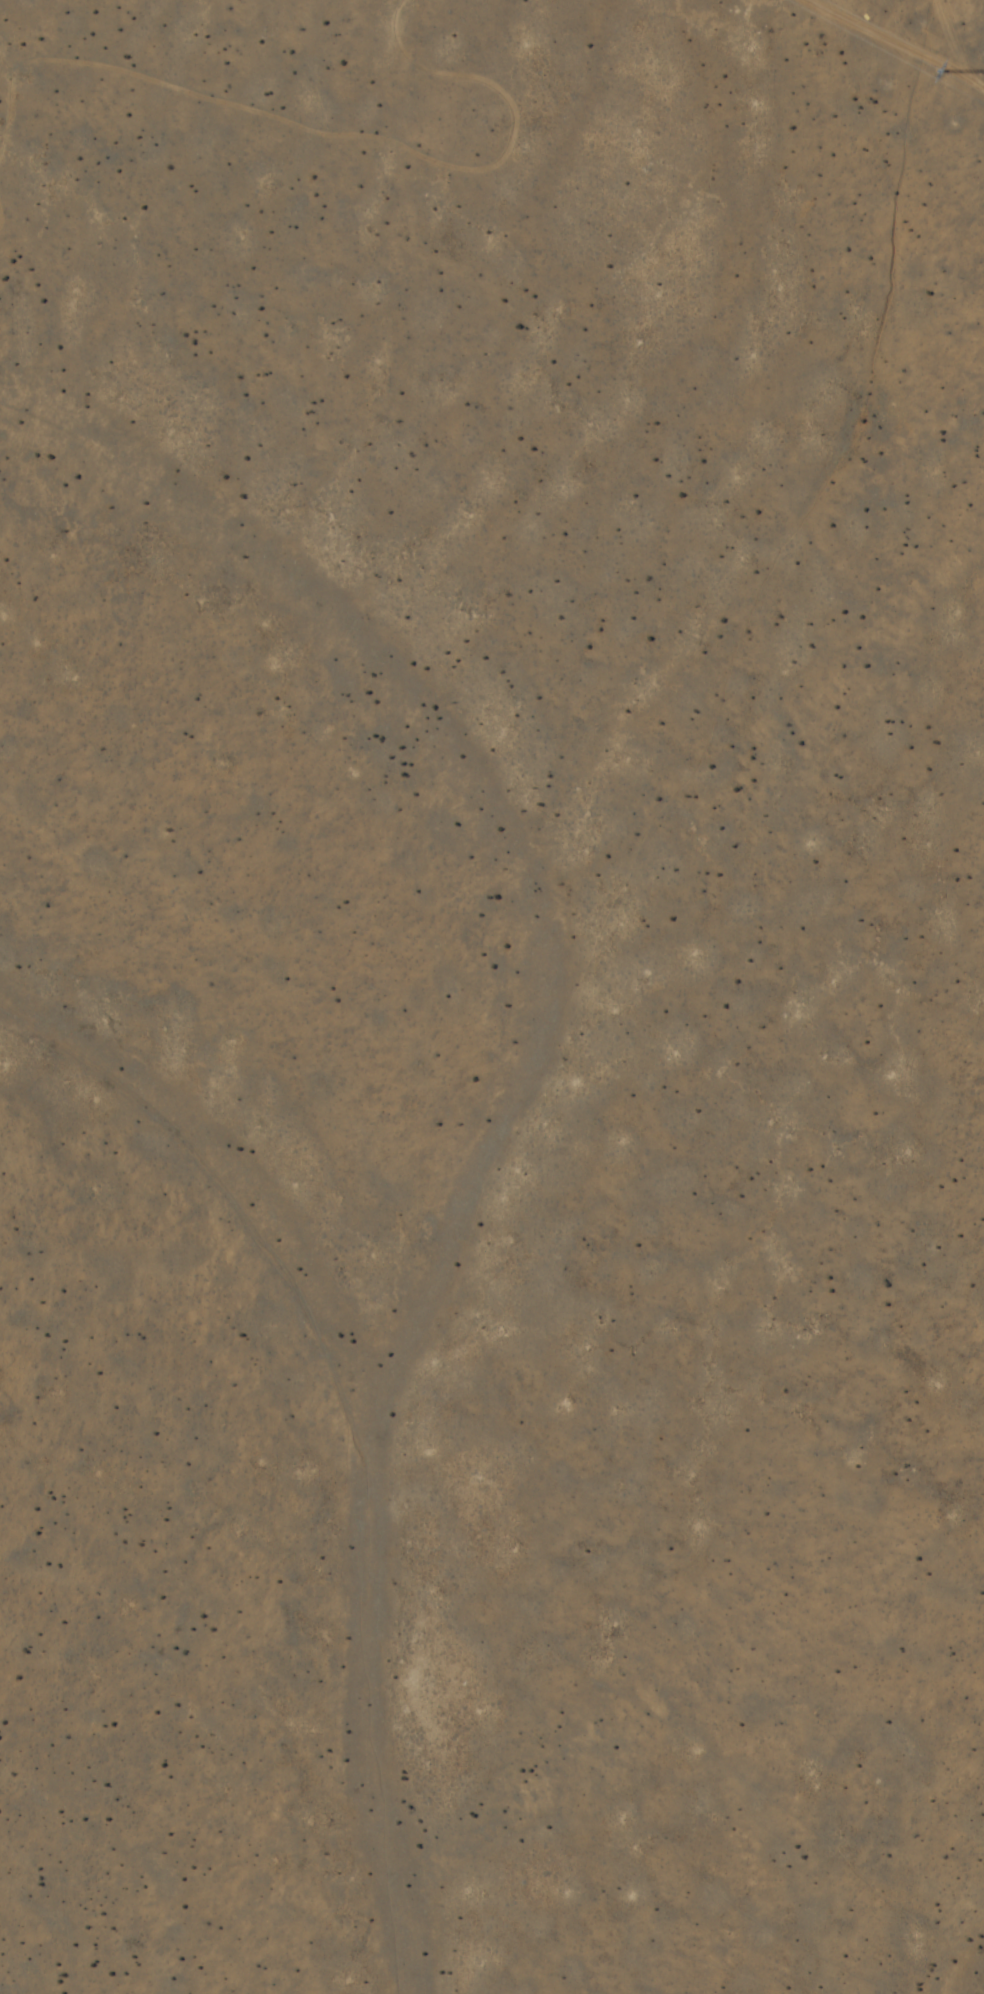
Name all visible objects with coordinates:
power tower: (935, 72)

